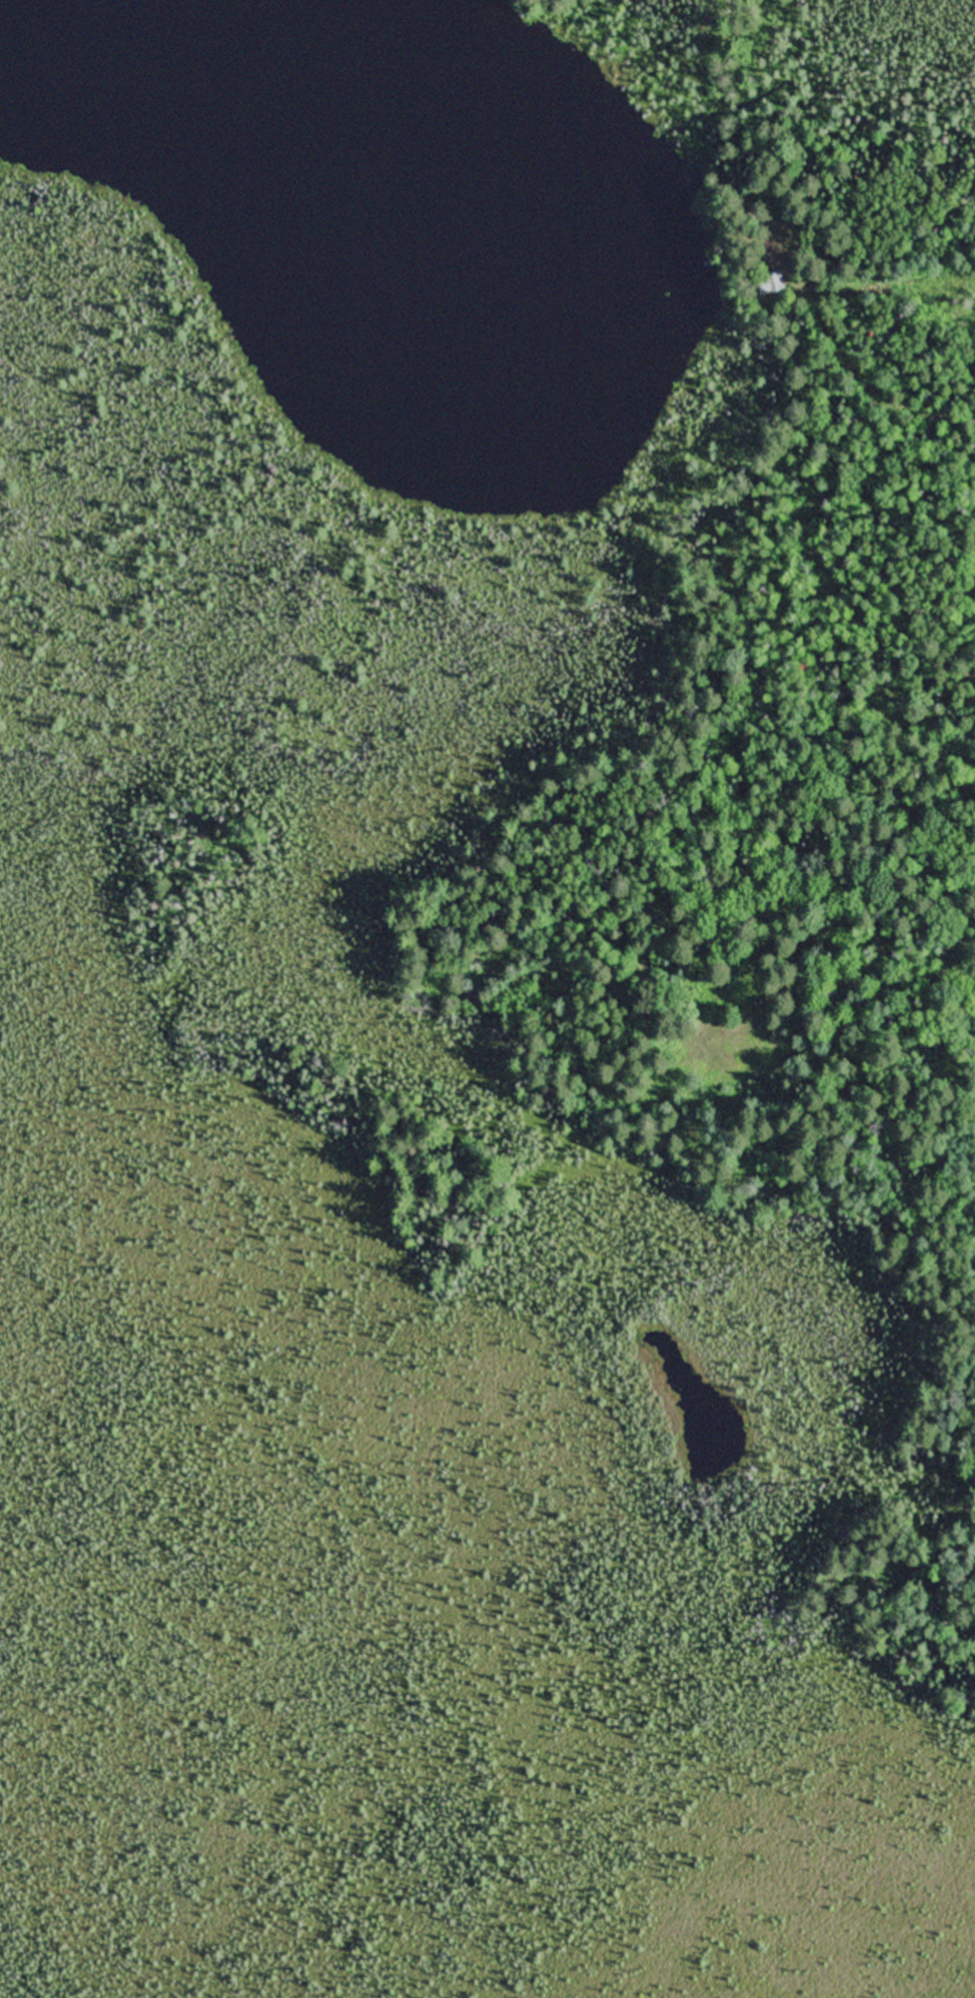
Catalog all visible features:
road: (848, 358)

